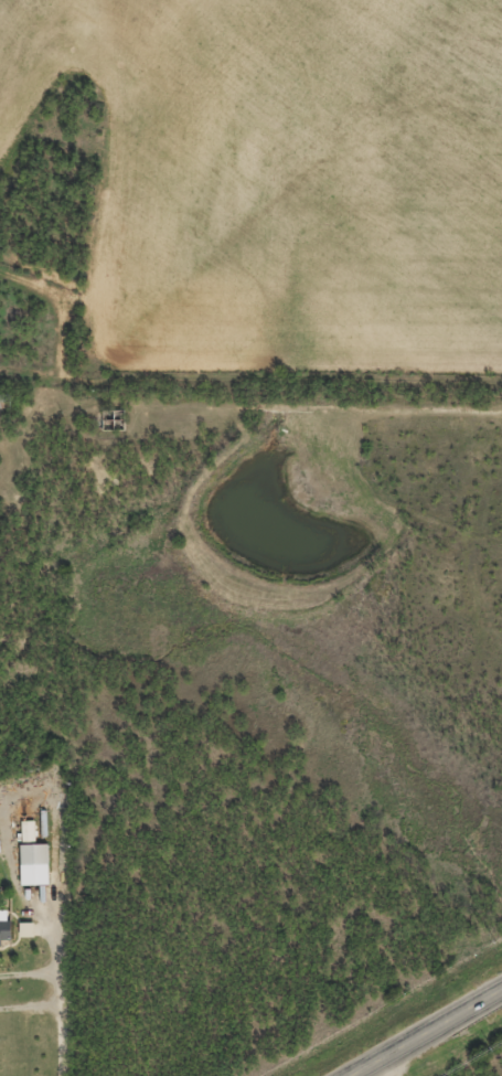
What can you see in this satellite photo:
building: (28, 830)
building: (33, 853)
building: (25, 928)
building: (4, 929)
road: (428, 1034)
road: (387, 1068)

